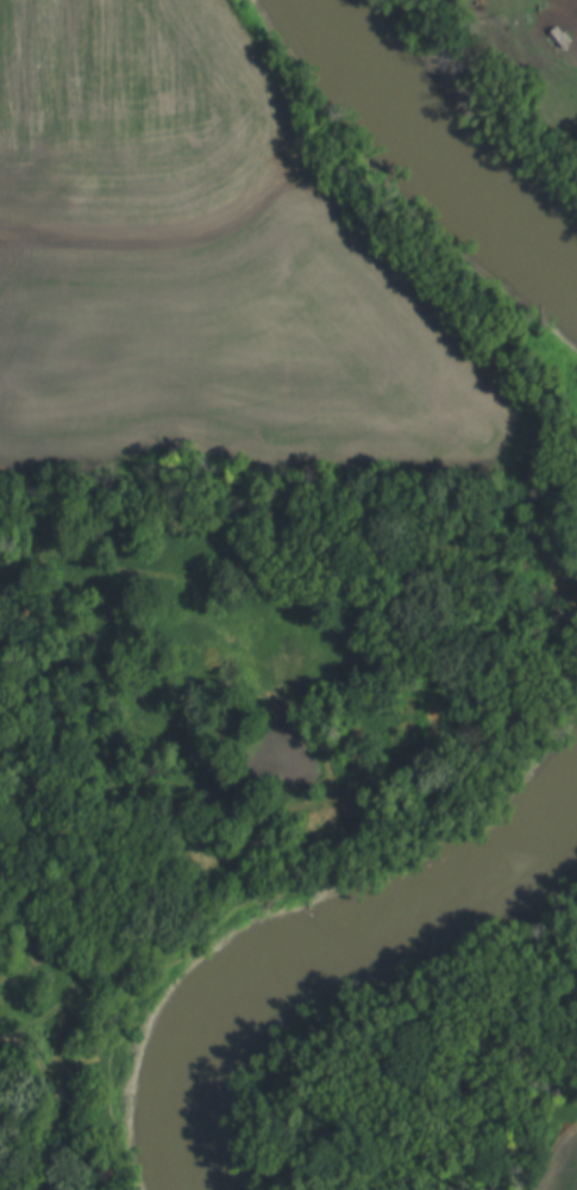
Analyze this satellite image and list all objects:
river: (334, 46)
river: (477, 216)
river: (340, 951)
crop: (559, 1161)
river: (178, 1175)

